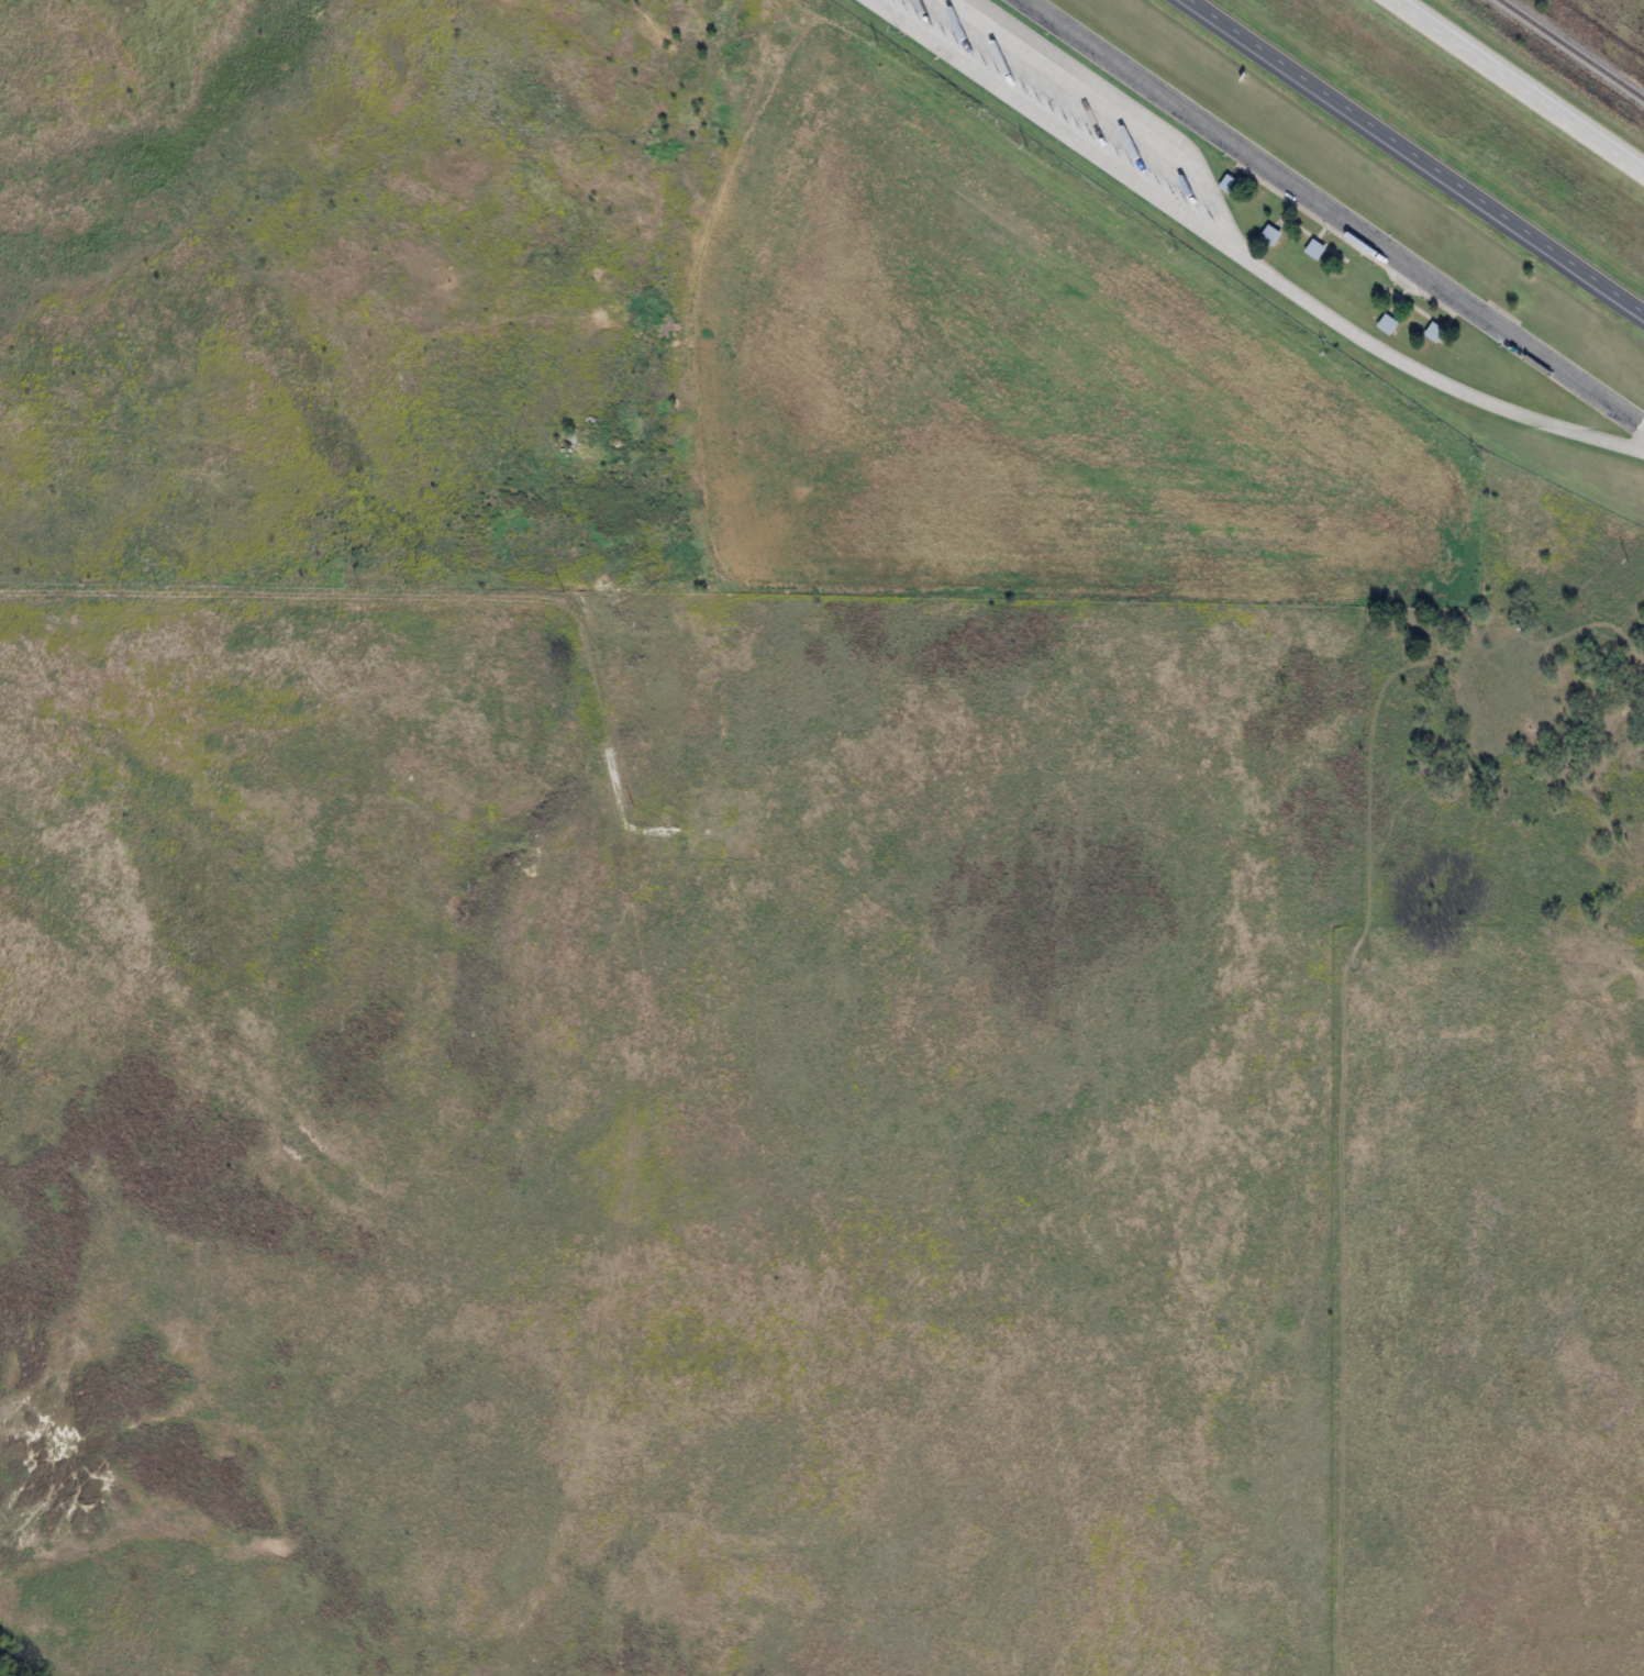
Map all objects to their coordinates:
railway: (1569, 51)
road: (1523, 84)
parking lot: (1058, 98)
road: (1131, 107)
road: (1421, 152)
building: (1225, 182)
road: (1334, 212)
road: (1281, 217)
parking lot: (1324, 218)
road: (1319, 234)
building: (1268, 235)
road: (1314, 237)
road: (1346, 243)
building: (1314, 249)
road: (1240, 255)
road: (1395, 301)
road: (1412, 307)
building: (1386, 324)
building: (1433, 332)

